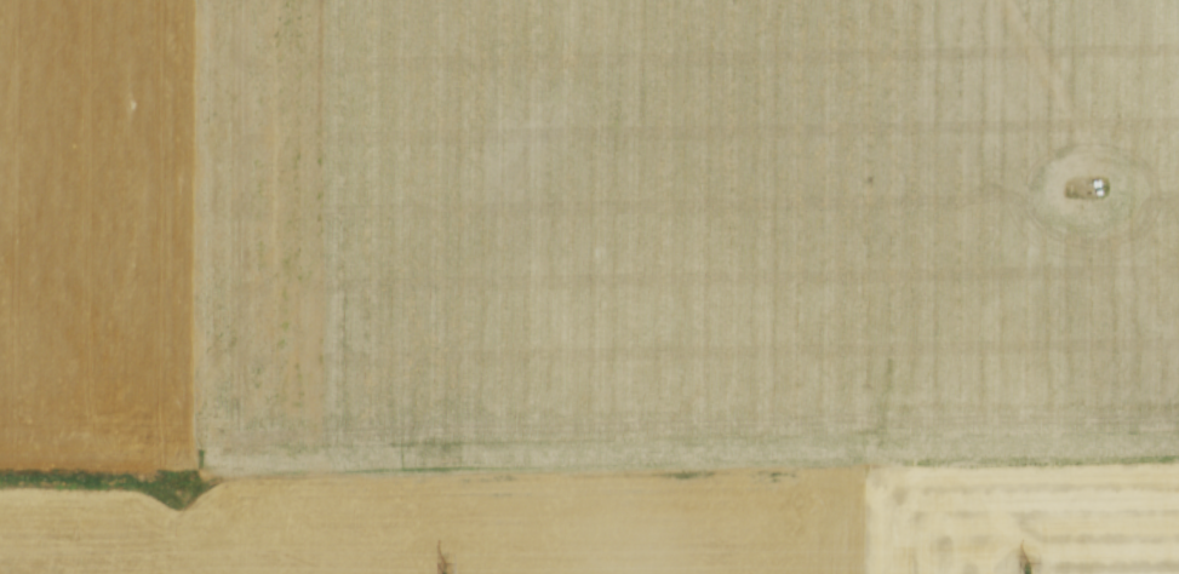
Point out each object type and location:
crop: (589, 286)
power tower: (1024, 566)
power tower: (443, 567)

